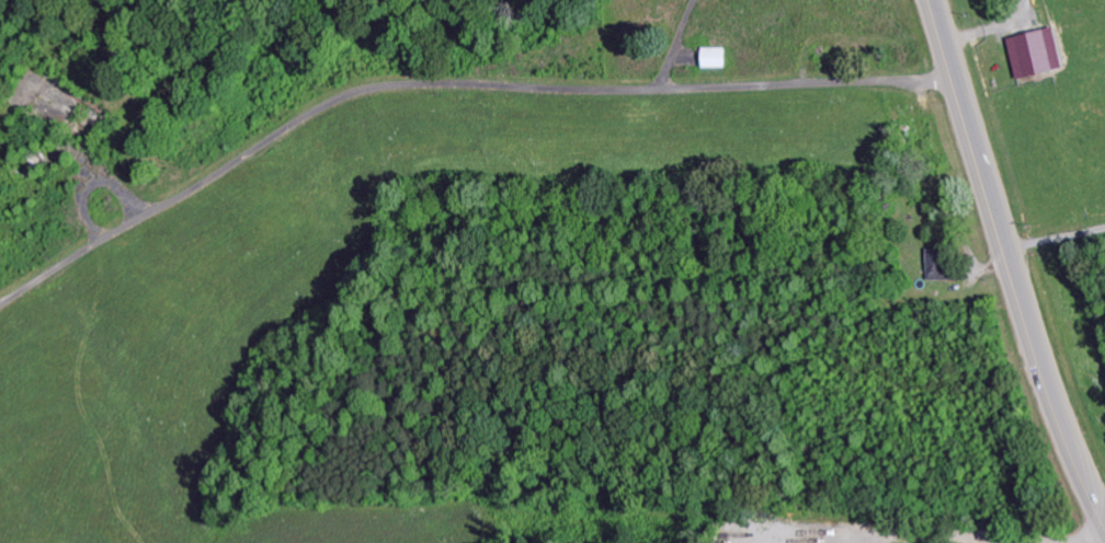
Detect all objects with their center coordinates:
building: (1030, 56)
building: (708, 60)
road: (446, 86)
road: (1053, 240)
road: (1007, 266)
building: (933, 267)

